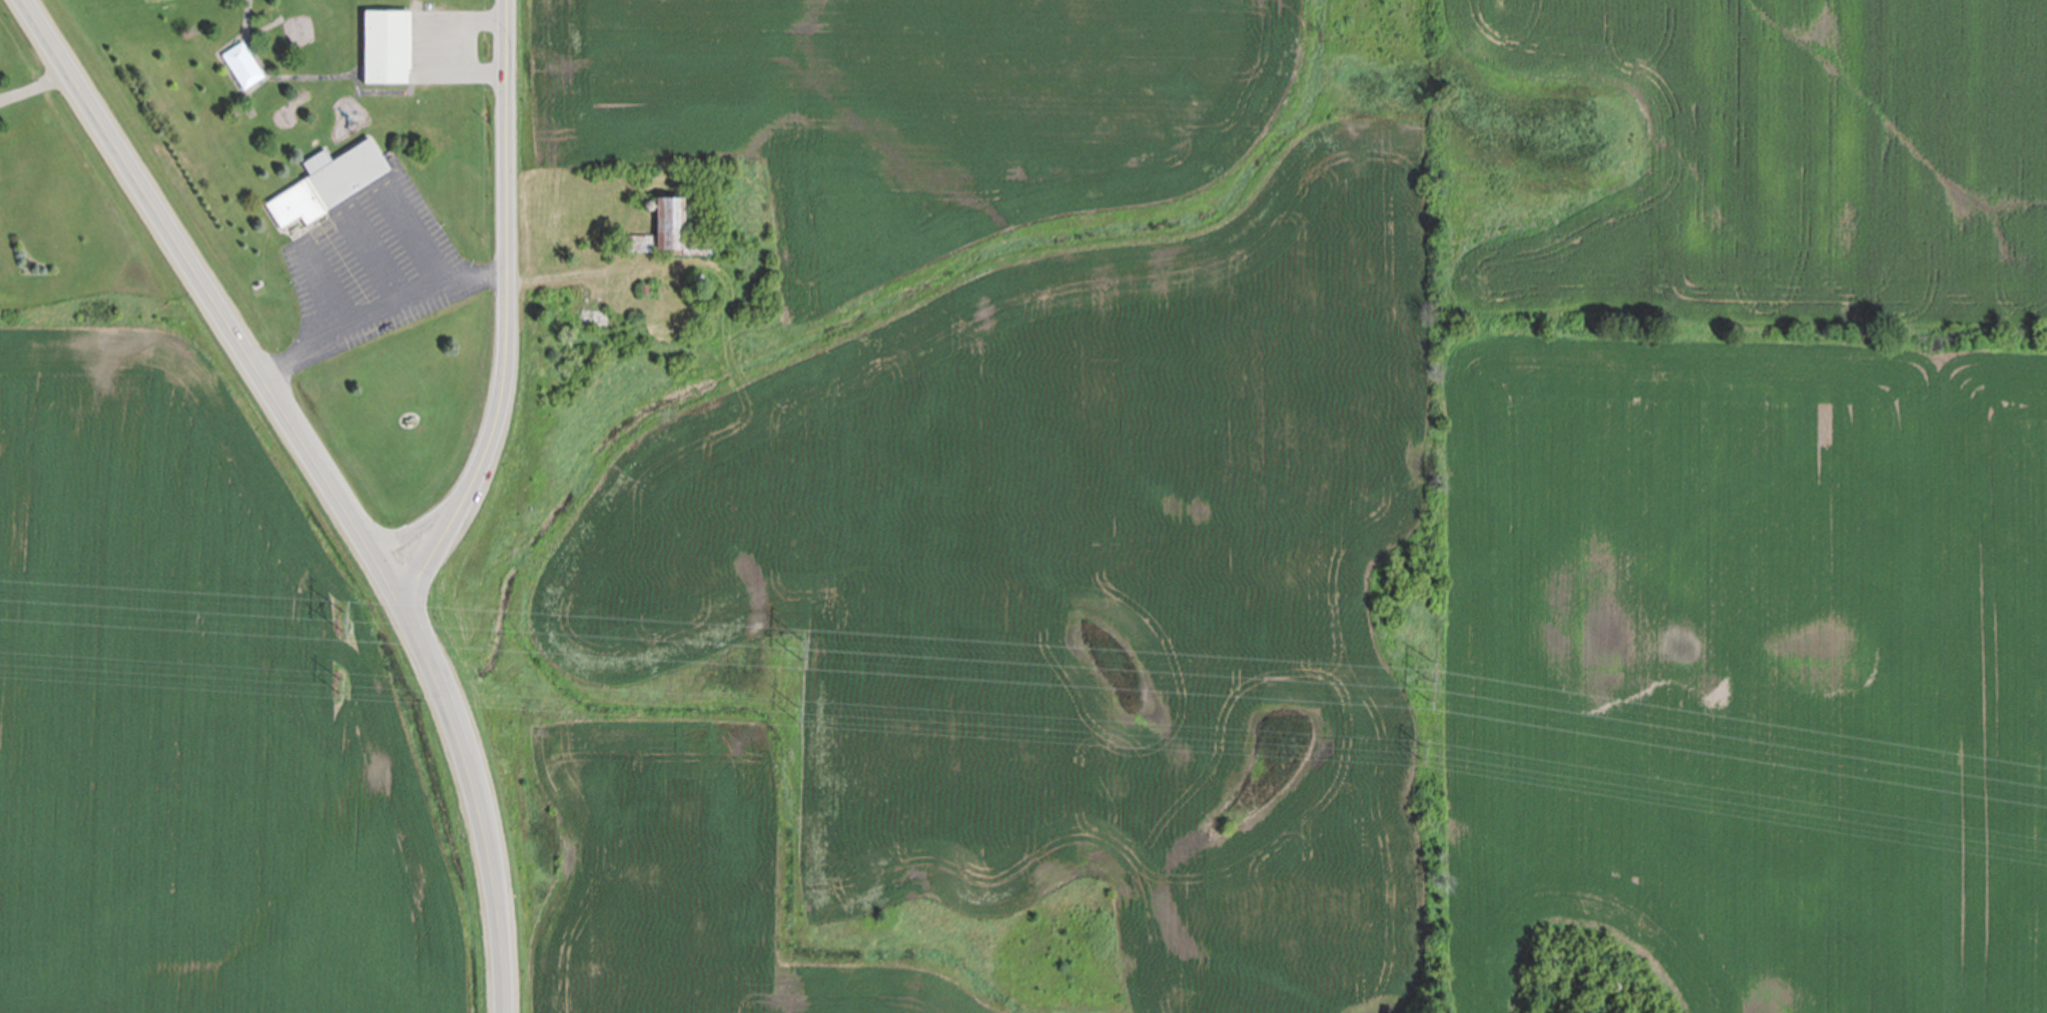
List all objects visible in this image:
road: (252, 23)
building: (399, 55)
building: (244, 63)
road: (33, 81)
road: (351, 81)
park: (234, 92)
building: (339, 189)
building: (648, 202)
building: (667, 230)
road: (415, 232)
road: (377, 254)
road: (474, 277)
building: (698, 279)
road: (327, 282)
building: (645, 288)
road: (207, 292)
road: (393, 296)
building: (579, 310)
road: (508, 311)
road: (307, 352)
power tower: (342, 620)
power tower: (799, 653)
power tower: (337, 680)
power tower: (1427, 691)
power tower: (795, 708)
crop: (201, 709)
power tower: (1420, 751)
road: (472, 792)
building: (1614, 987)

